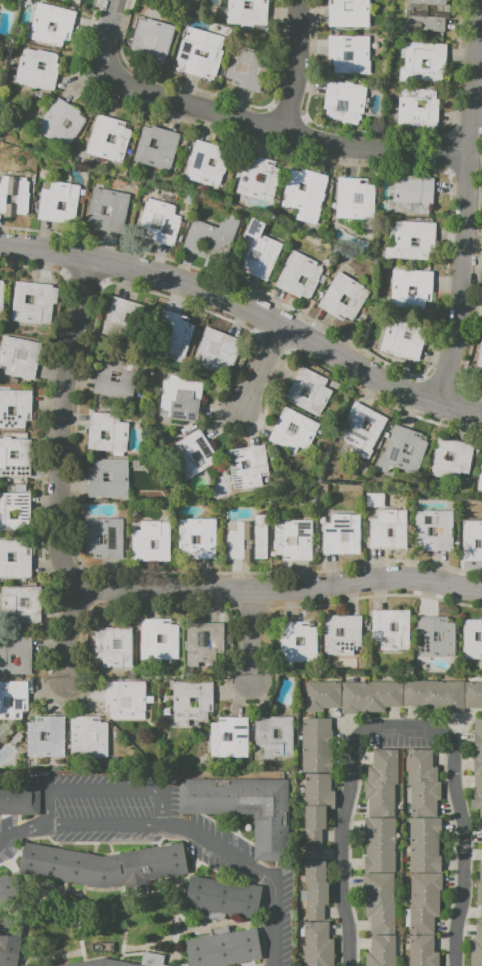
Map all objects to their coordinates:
building: (0, 4)
building: (247, 4)
building: (348, 13)
building: (246, 14)
building: (426, 15)
building: (38, 27)
building: (51, 27)
building: (151, 39)
road: (105, 52)
building: (184, 53)
building: (200, 53)
building: (348, 54)
building: (411, 63)
building: (424, 64)
building: (40, 65)
building: (246, 67)
road: (299, 67)
building: (36, 69)
building: (343, 101)
building: (417, 108)
building: (60, 122)
building: (67, 124)
road: (299, 137)
building: (97, 138)
building: (110, 138)
building: (152, 143)
building: (165, 147)
building: (211, 162)
building: (205, 163)
building: (247, 178)
building: (260, 178)
building: (304, 194)
building: (412, 194)
building: (12, 195)
building: (353, 198)
road: (469, 203)
building: (47, 205)
building: (60, 205)
building: (105, 210)
building: (117, 210)
building: (158, 221)
building: (210, 238)
building: (398, 241)
building: (414, 242)
building: (267, 250)
building: (254, 254)
building: (298, 275)
building: (301, 279)
building: (424, 289)
building: (411, 290)
building: (1, 295)
building: (357, 295)
building: (28, 299)
building: (33, 302)
road: (248, 307)
building: (124, 318)
building: (172, 333)
building: (402, 339)
building: (215, 351)
building: (8, 355)
building: (21, 355)
building: (480, 363)
road: (262, 367)
building: (114, 379)
building: (126, 379)
building: (308, 391)
building: (180, 399)
building: (11, 410)
building: (23, 410)
building: (365, 426)
road: (59, 427)
building: (362, 430)
building: (292, 431)
building: (103, 434)
building: (118, 434)
building: (401, 450)
building: (192, 454)
building: (449, 456)
building: (461, 456)
building: (15, 457)
building: (244, 464)
building: (249, 472)
building: (480, 474)
building: (106, 477)
building: (119, 477)
building: (15, 511)
building: (11, 513)
building: (431, 531)
building: (444, 531)
building: (377, 532)
building: (390, 532)
building: (330, 537)
building: (342, 537)
building: (101, 539)
building: (184, 539)
building: (195, 539)
building: (246, 539)
building: (114, 540)
building: (290, 540)
building: (303, 540)
building: (471, 540)
building: (151, 541)
building: (477, 543)
building: (11, 556)
building: (22, 558)
road: (285, 591)
building: (10, 602)
building: (23, 602)
building: (393, 626)
building: (380, 630)
road: (72, 631)
building: (340, 632)
building: (351, 632)
road: (251, 634)
building: (424, 636)
building: (436, 636)
building: (477, 636)
building: (146, 638)
building: (160, 638)
building: (471, 638)
building: (202, 642)
building: (297, 642)
building: (113, 646)
building: (14, 658)
building: (24, 659)
building: (434, 694)
building: (321, 695)
building: (473, 695)
building: (369, 696)
building: (13, 698)
building: (124, 699)
building: (179, 701)
building: (7, 702)
building: (192, 702)
building: (263, 733)
building: (276, 733)
building: (87, 735)
building: (43, 736)
building: (55, 736)
building: (226, 736)
building: (239, 736)
building: (315, 745)
building: (477, 746)
building: (383, 766)
building: (422, 782)
road: (105, 789)
building: (318, 790)
building: (476, 791)
building: (20, 796)
building: (215, 796)
building: (380, 799)
building: (480, 816)
building: (314, 817)
building: (269, 820)
road: (107, 823)
road: (341, 826)
road: (464, 828)
road: (25, 831)
building: (312, 837)
building: (425, 844)
building: (378, 845)
building: (312, 853)
building: (53, 862)
building: (153, 863)
building: (104, 870)
road: (256, 872)
building: (315, 890)
building: (479, 890)
building: (9, 893)
building: (223, 896)
building: (422, 901)
building: (379, 902)
building: (317, 944)
building: (476, 945)
building: (222, 949)
building: (8, 950)
building: (381, 951)
building: (421, 951)
building: (99, 962)
building: (73, 963)
building: (123, 964)

